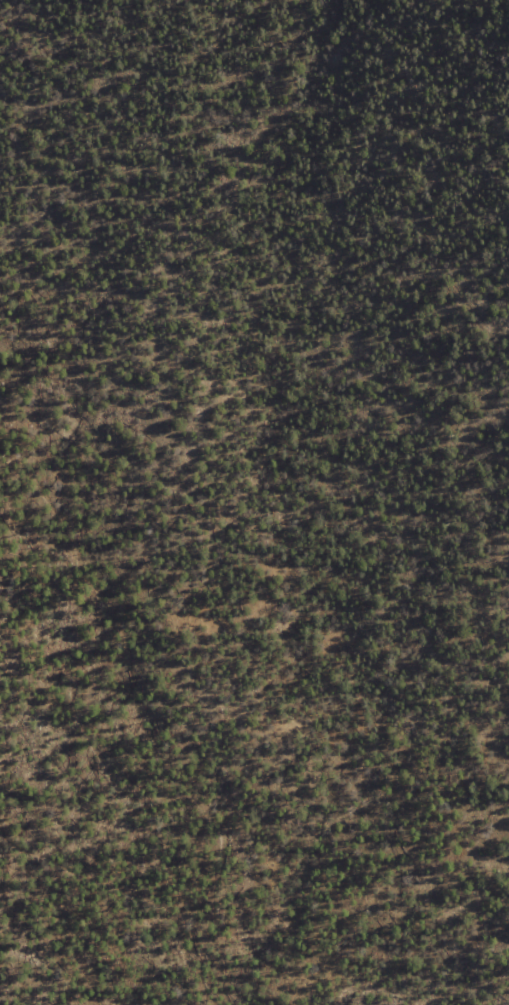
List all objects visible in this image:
road: (252, 919)

